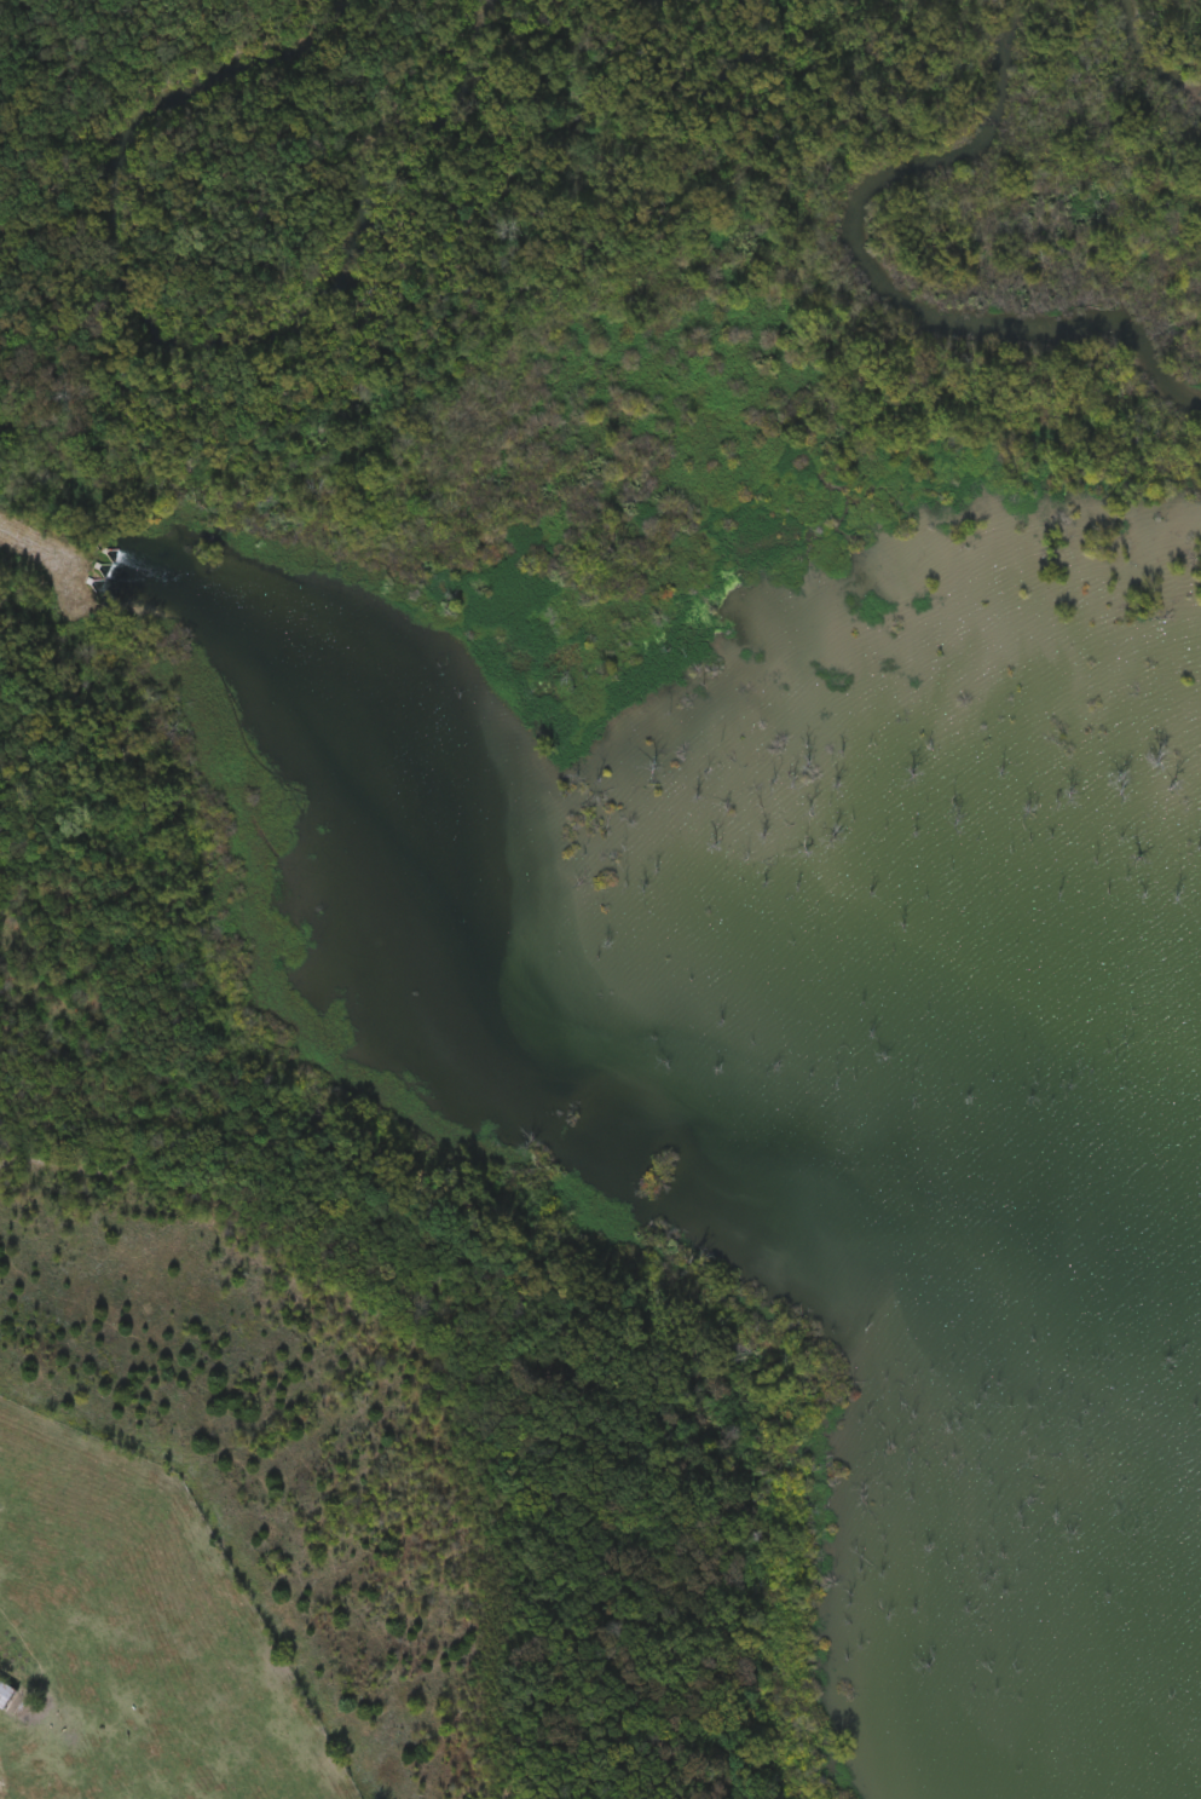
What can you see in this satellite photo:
building: (16, 1700)
road: (4, 1786)

